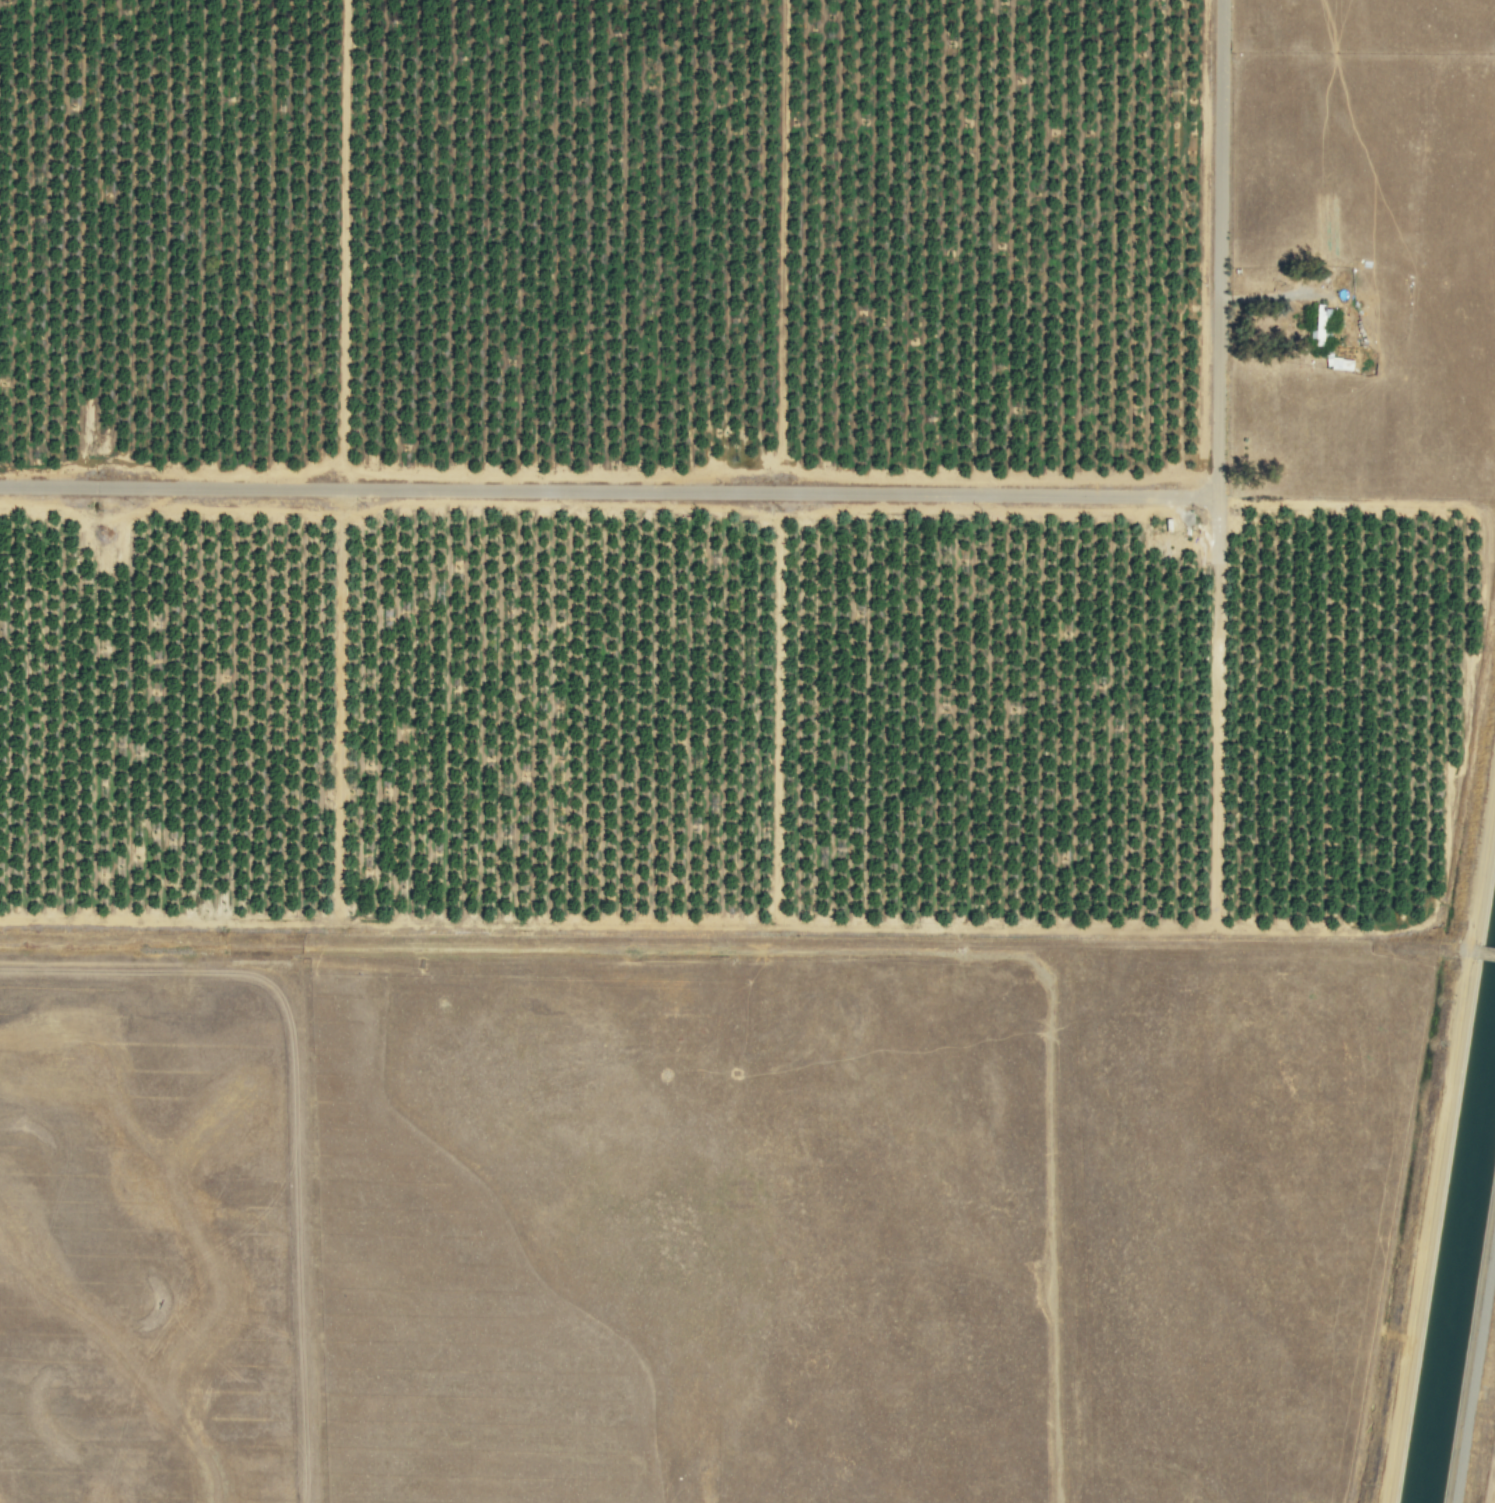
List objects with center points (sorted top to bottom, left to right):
road: (1215, 247)
building: (1319, 325)
building: (1337, 363)
road: (606, 488)

